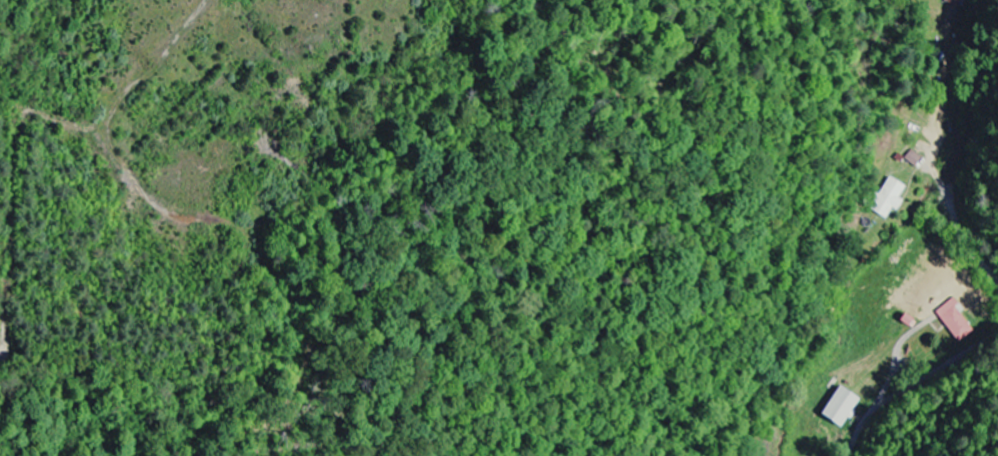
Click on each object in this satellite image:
building: (960, 3)
building: (913, 159)
building: (888, 199)
building: (955, 321)
building: (840, 408)
road: (868, 419)

